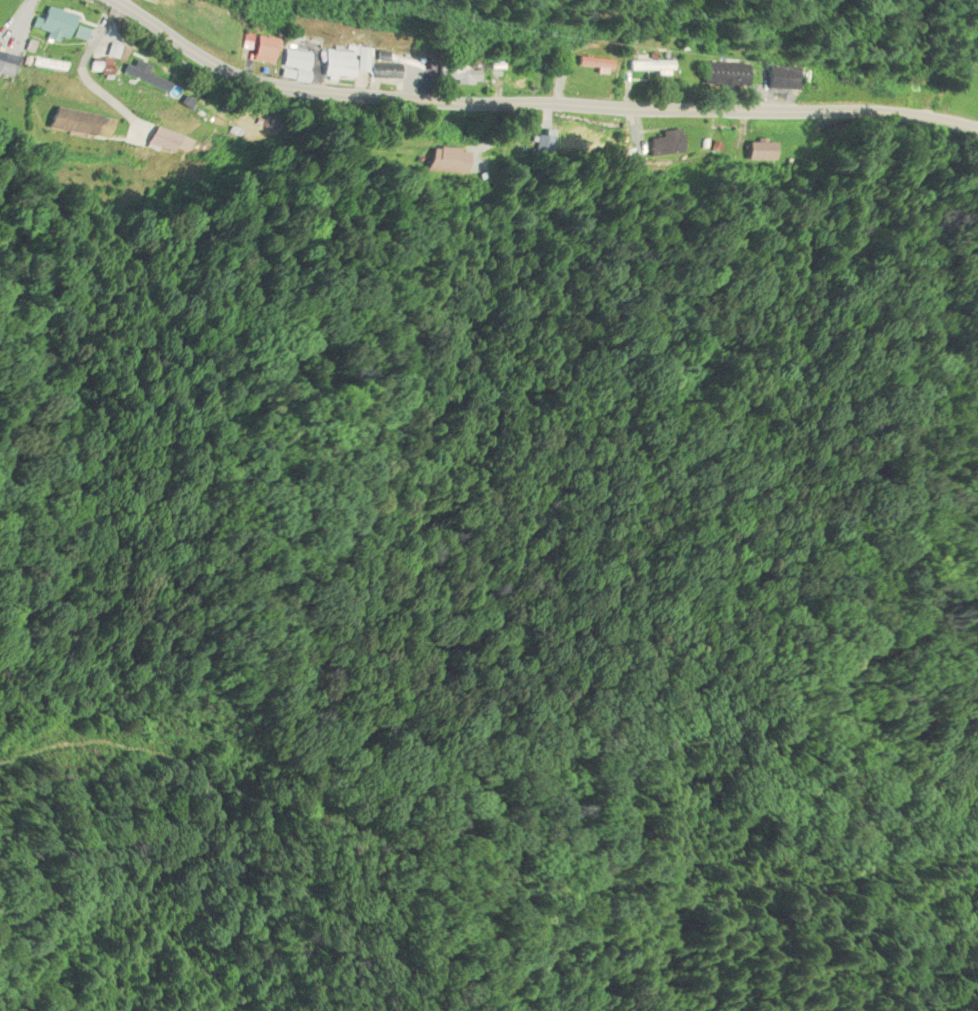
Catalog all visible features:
building: (57, 25)
building: (262, 50)
building: (10, 62)
building: (51, 65)
building: (104, 66)
building: (336, 66)
building: (584, 66)
building: (381, 71)
building: (456, 75)
building: (140, 76)
building: (720, 76)
building: (779, 79)
road: (539, 102)
building: (74, 122)
building: (444, 162)

